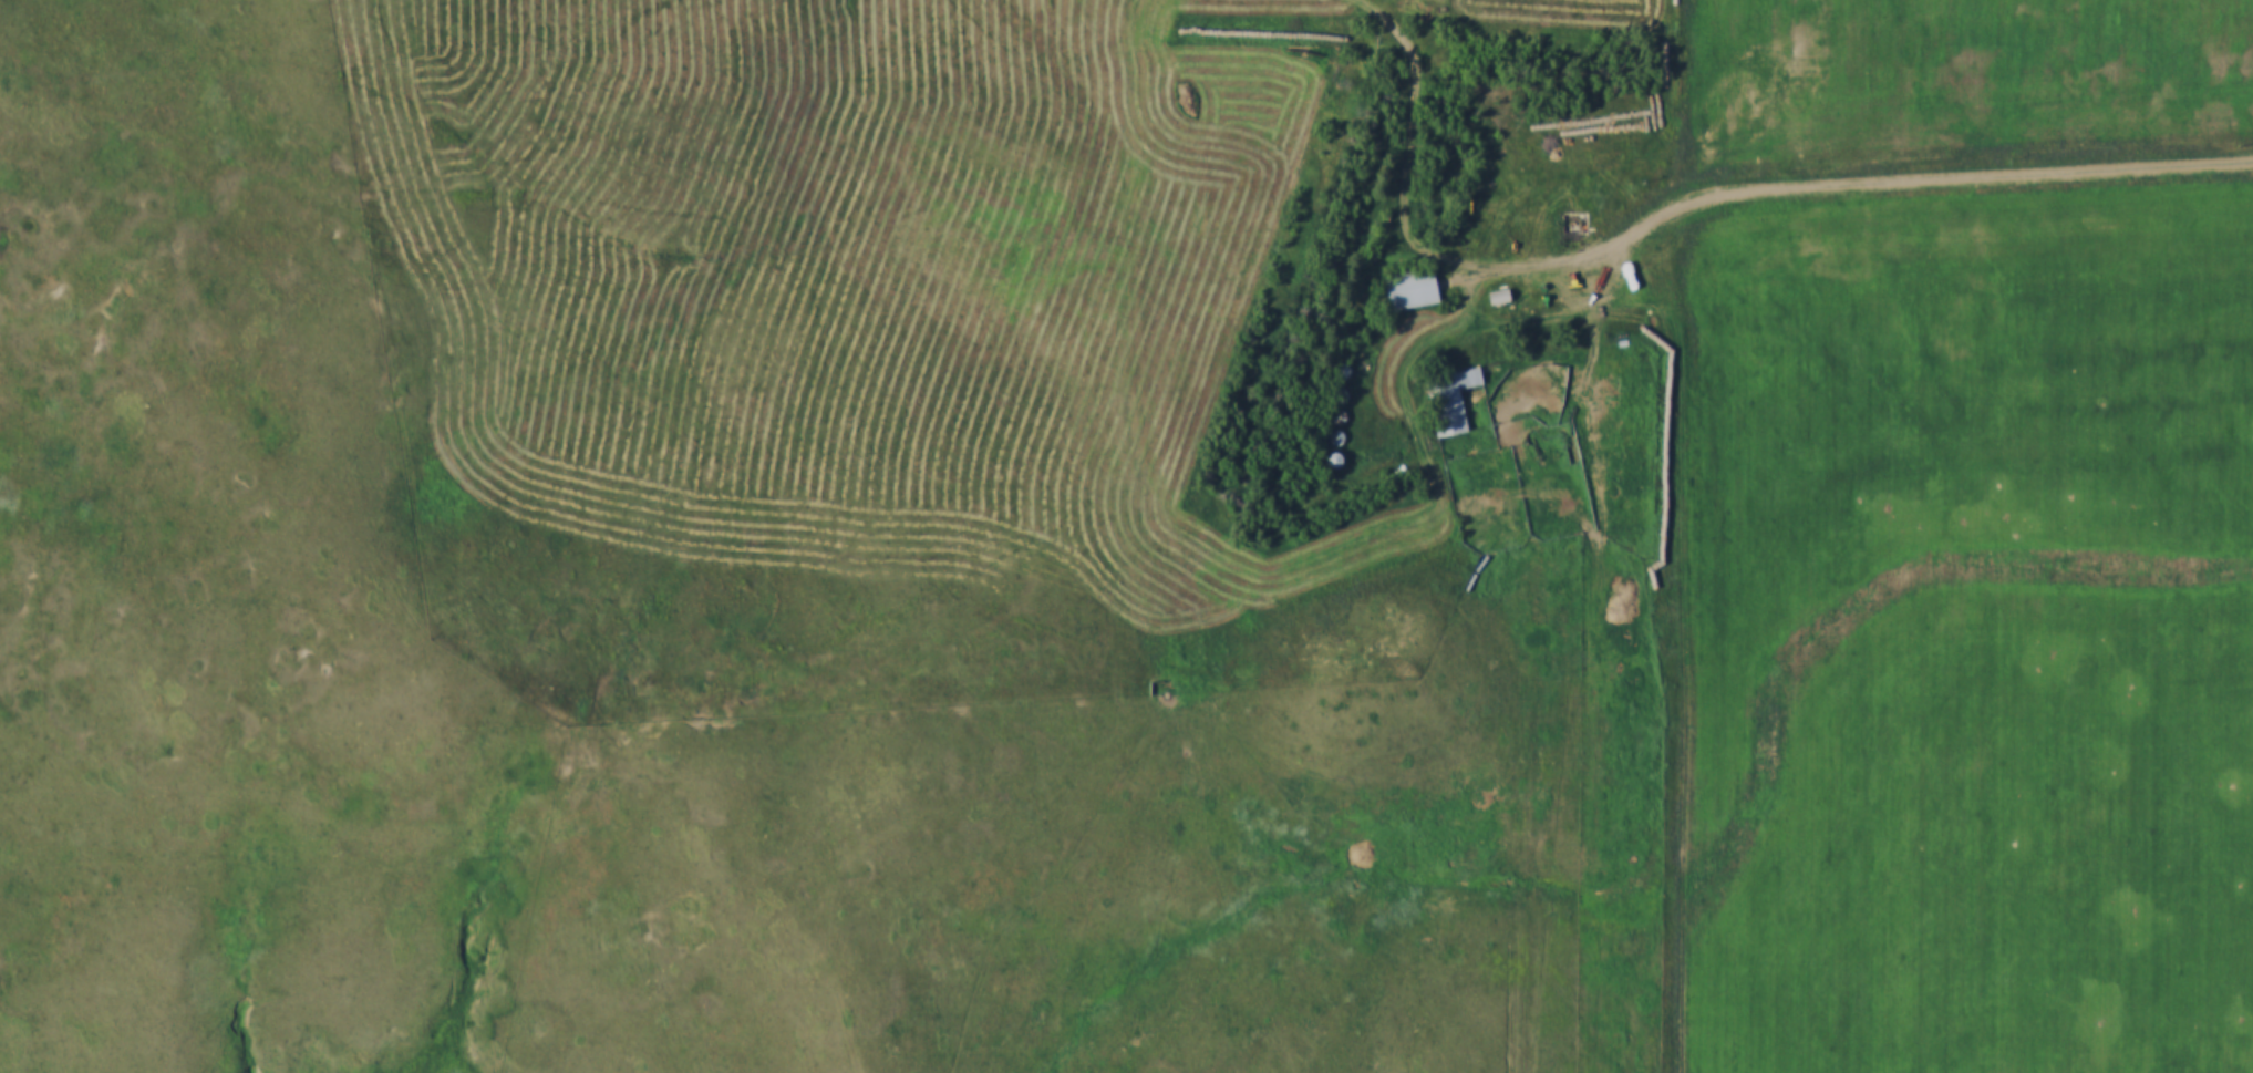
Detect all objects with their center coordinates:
road: (360, 103)
road: (1415, 143)
road: (1859, 180)
building: (1571, 210)
building: (1572, 227)
building: (1406, 274)
building: (1495, 281)
building: (1497, 298)
road: (607, 367)
building: (1339, 378)
silo: (1339, 378)
building: (1448, 382)
building: (1336, 399)
silo: (1336, 399)
building: (1335, 420)
silo: (1335, 420)
building: (1332, 443)
silo: (1332, 443)
building: (1332, 461)
road: (1312, 554)

